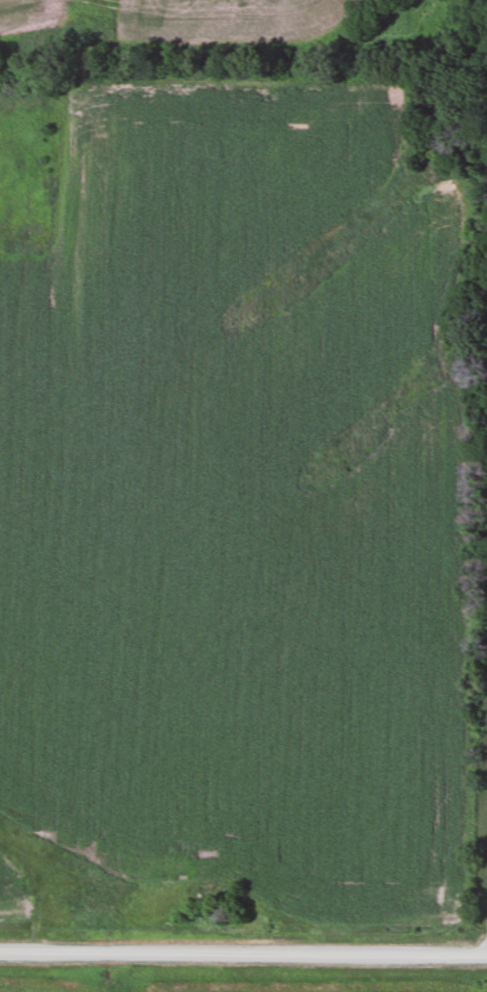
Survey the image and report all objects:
road: (243, 957)

